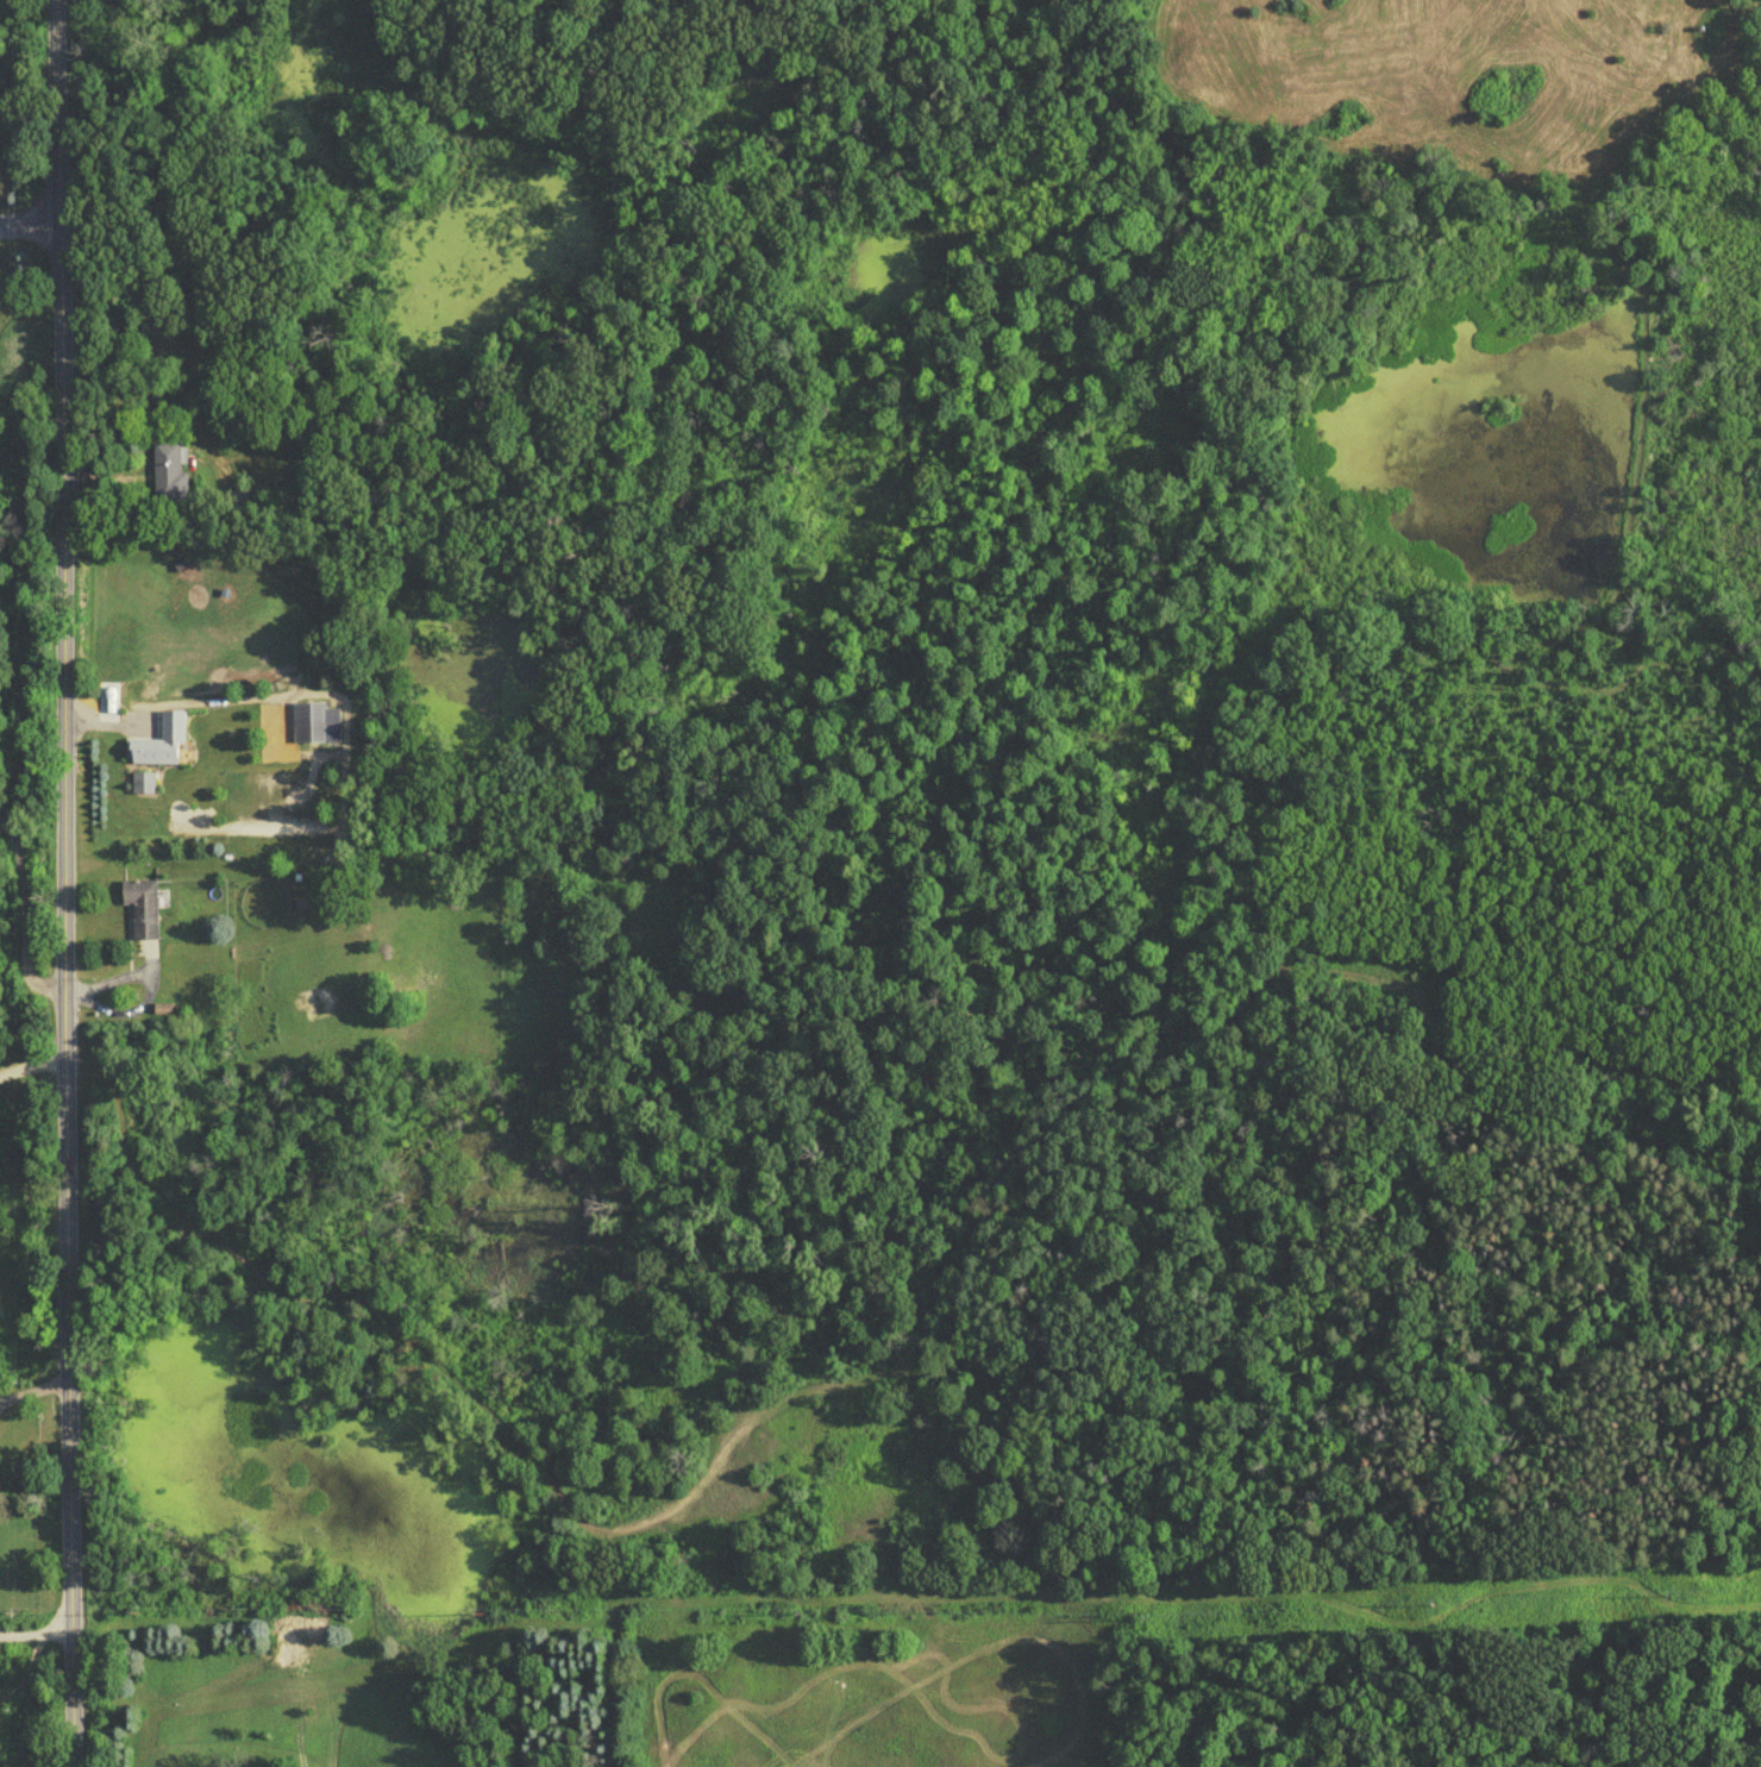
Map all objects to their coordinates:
road: (32, 223)
building: (169, 477)
building: (318, 728)
building: (159, 747)
building: (143, 788)
road: (70, 883)
building: (140, 913)
road: (25, 920)
road: (36, 1061)
road: (36, 1393)
road: (38, 1638)

